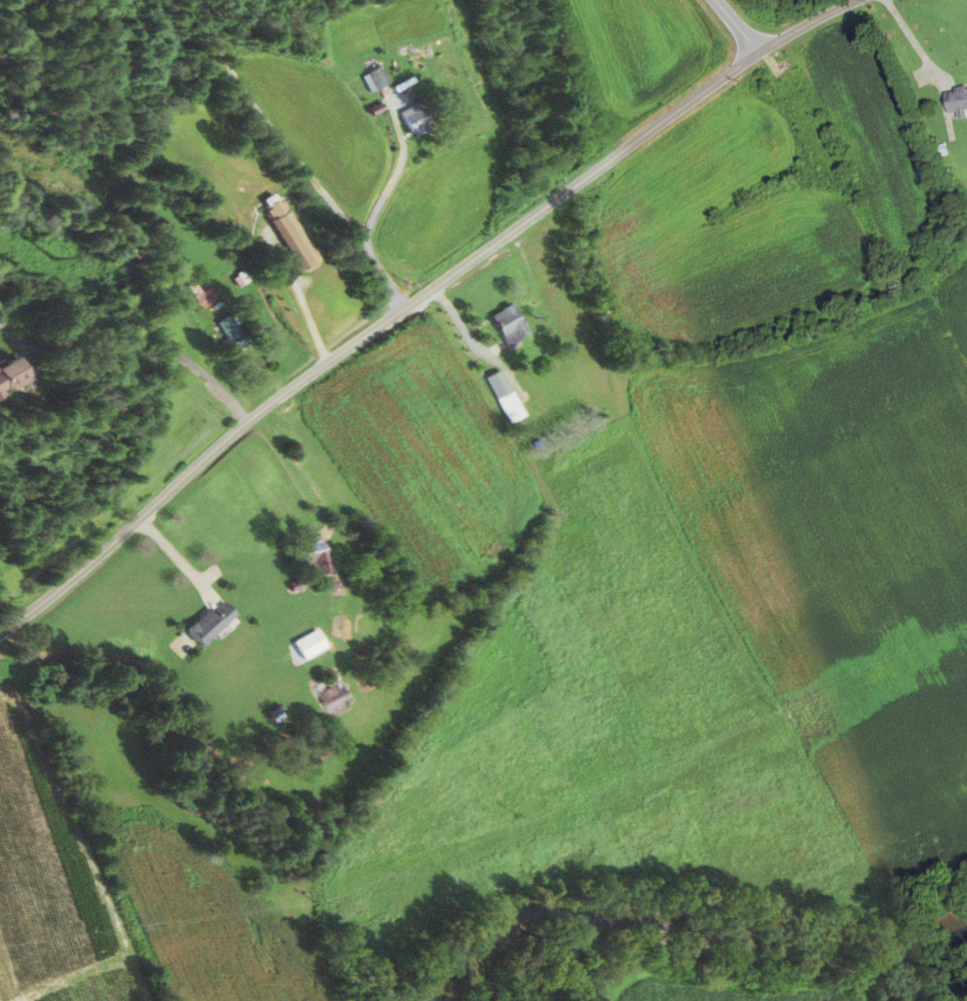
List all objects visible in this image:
road: (735, 26)
road: (912, 39)
building: (374, 79)
building: (956, 101)
building: (412, 120)
road: (274, 129)
road: (368, 226)
building: (284, 233)
building: (197, 295)
road: (416, 300)
building: (504, 323)
road: (136, 329)
road: (6, 332)
building: (225, 335)
building: (7, 374)
building: (500, 397)
road: (291, 469)
road: (173, 555)
building: (309, 558)
building: (204, 622)
building: (323, 690)
river: (684, 930)

